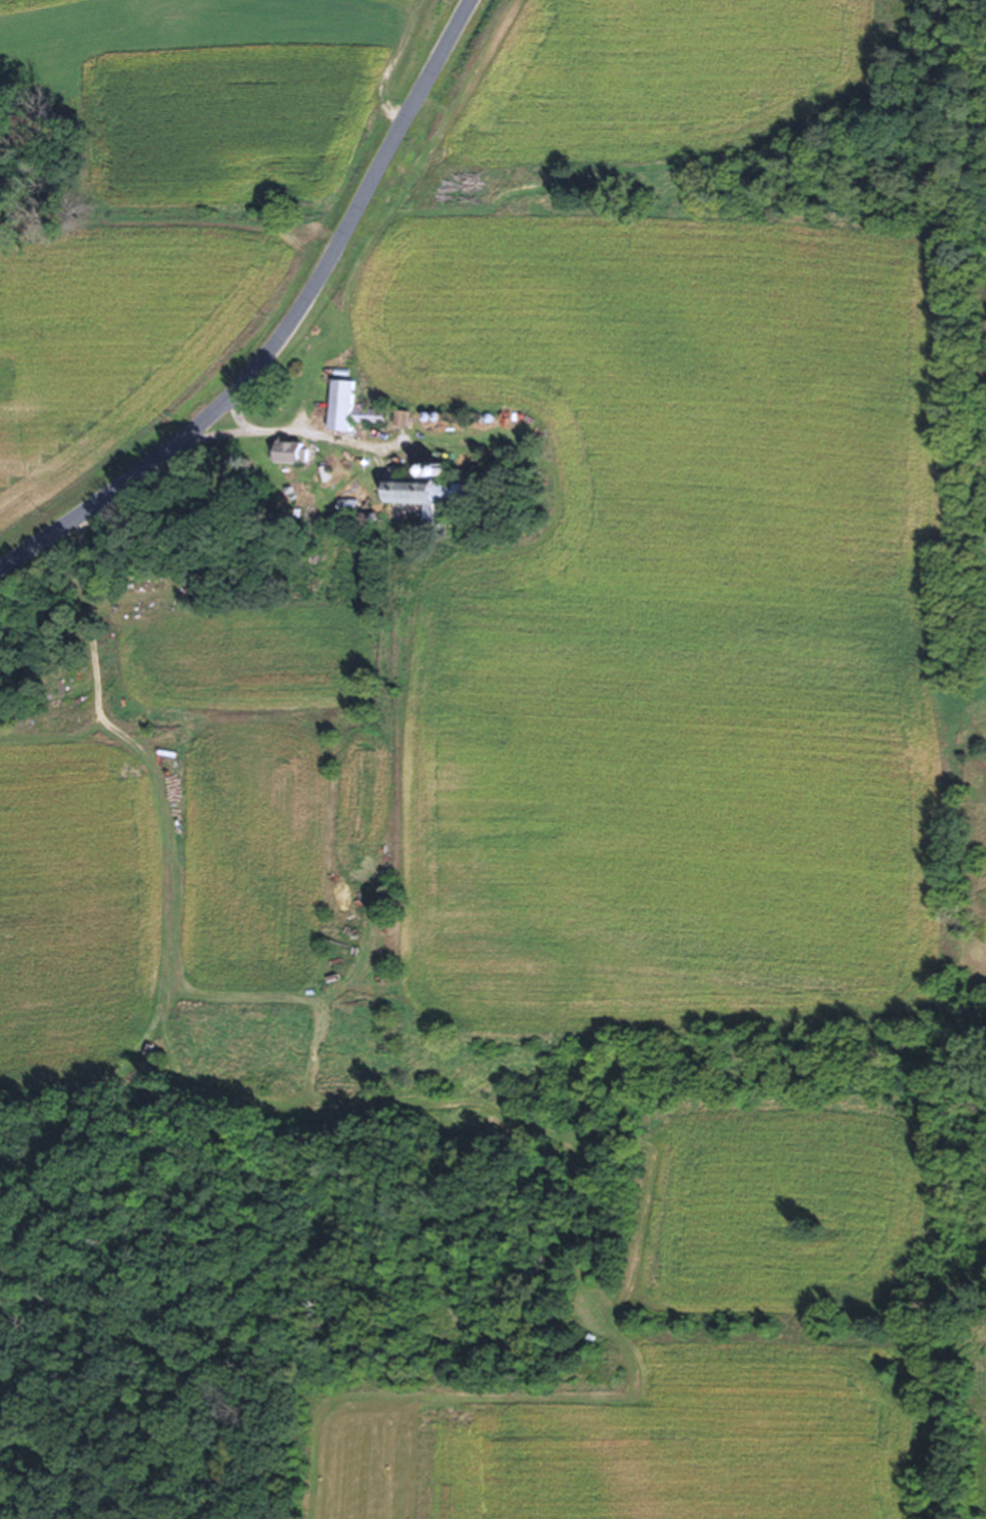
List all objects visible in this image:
road: (282, 323)
building: (334, 414)
building: (410, 510)
road: (94, 636)

